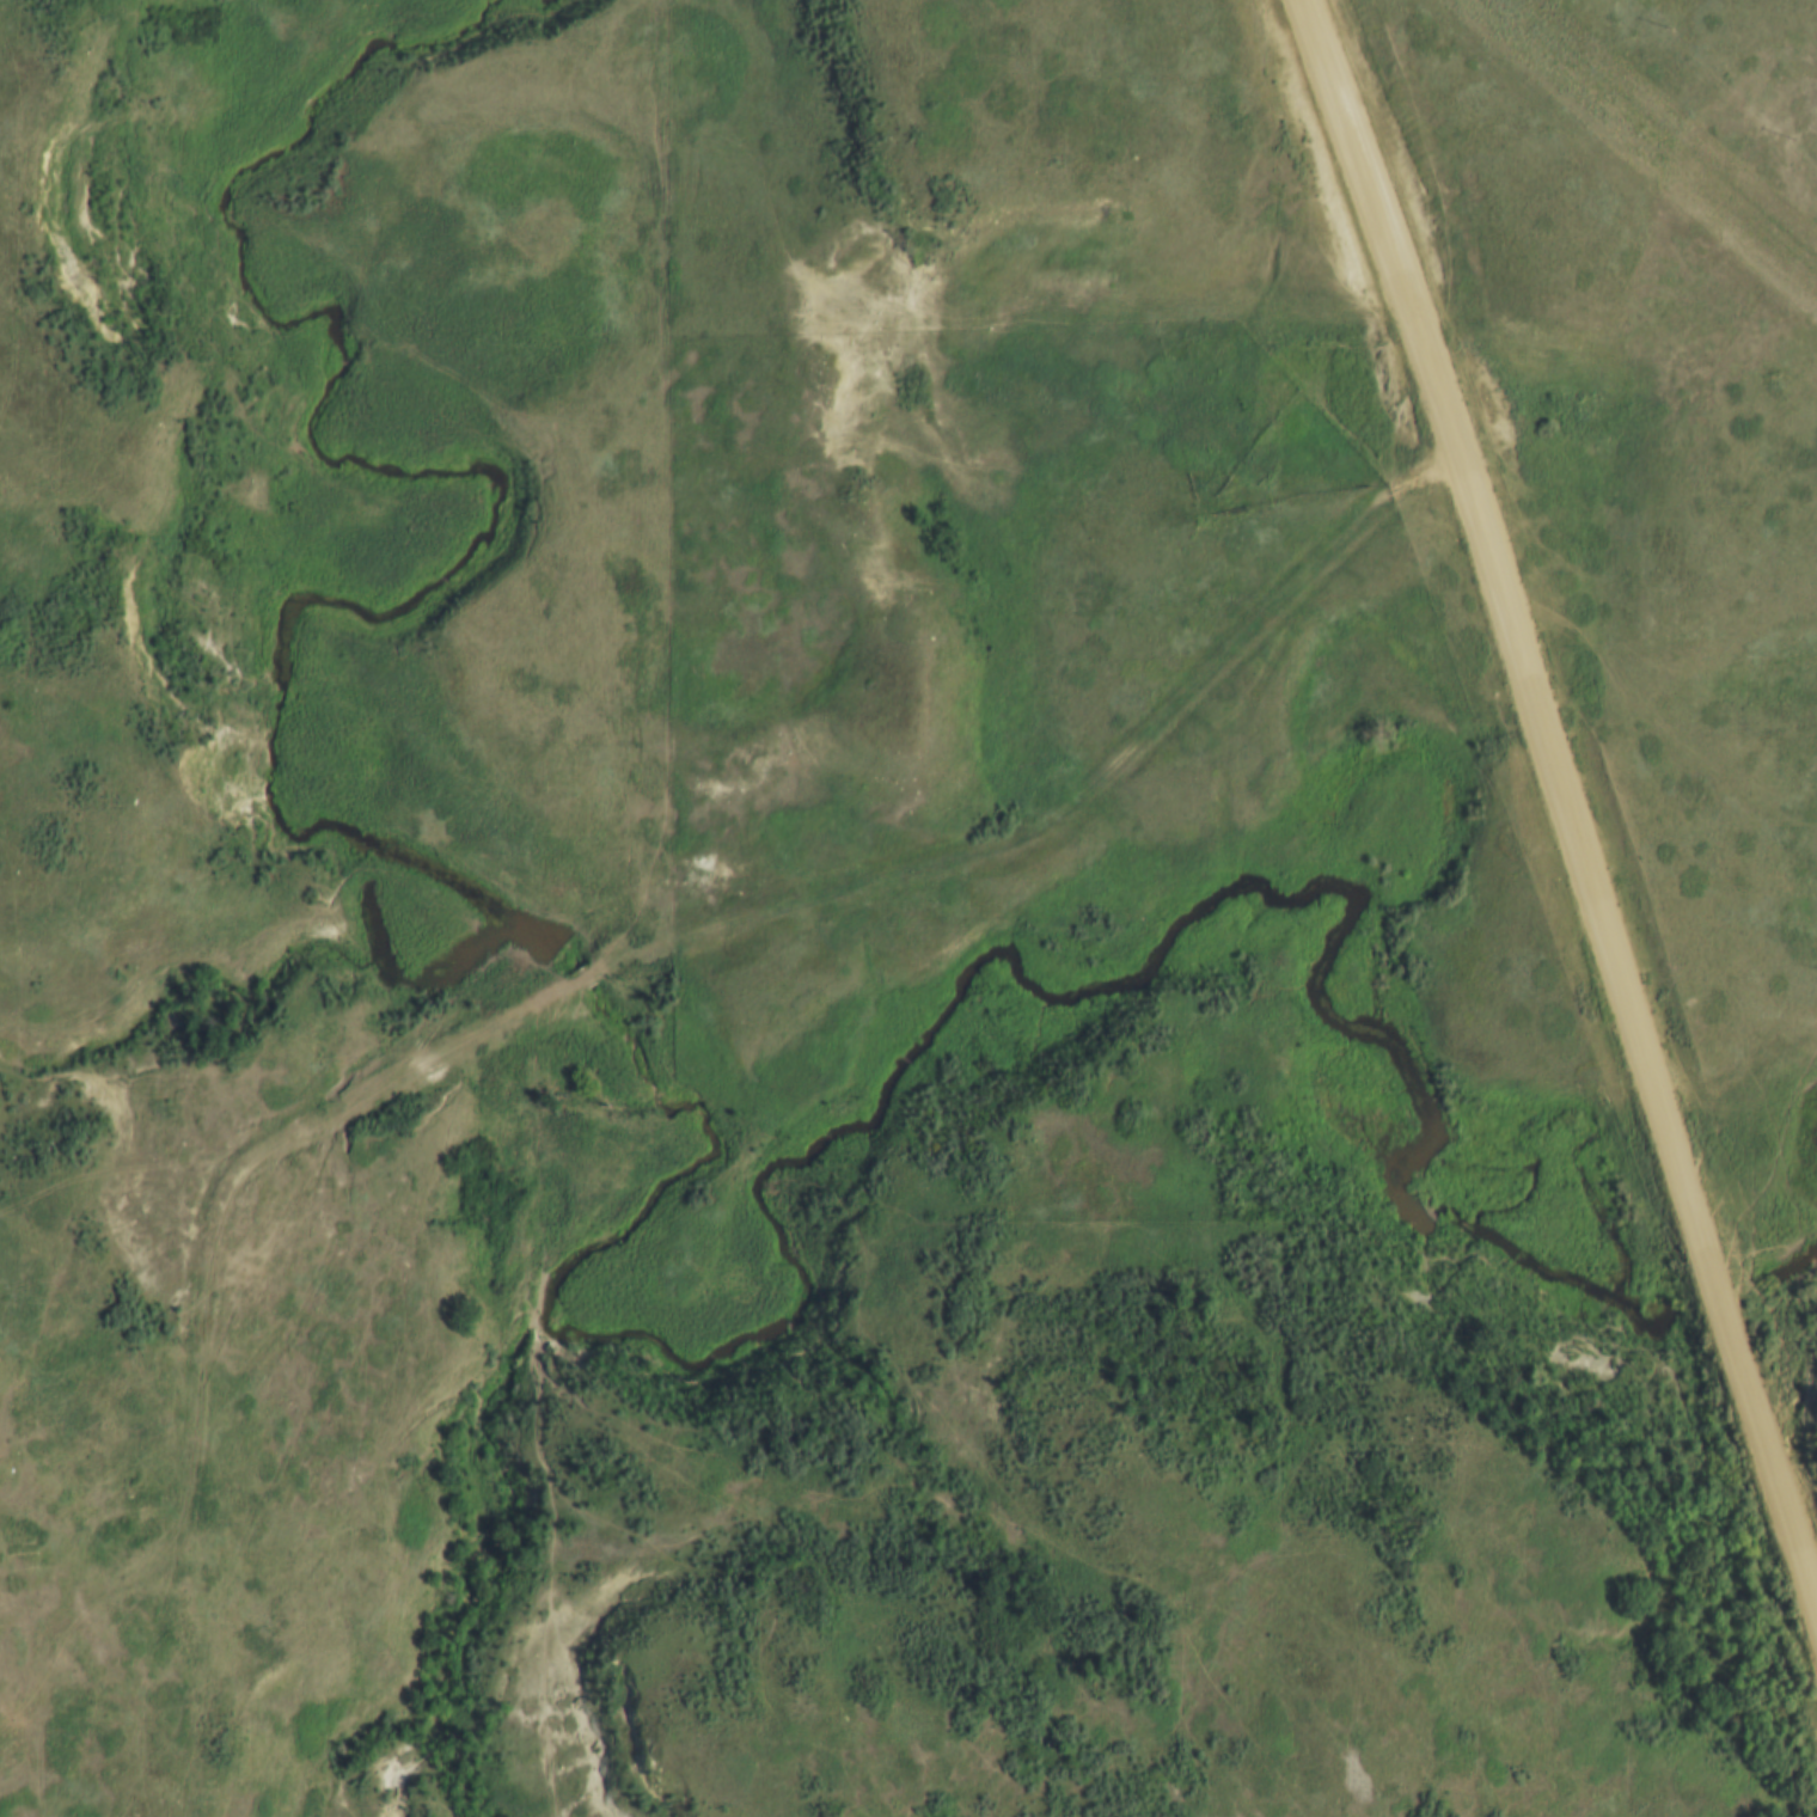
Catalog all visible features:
road: (1568, 796)

